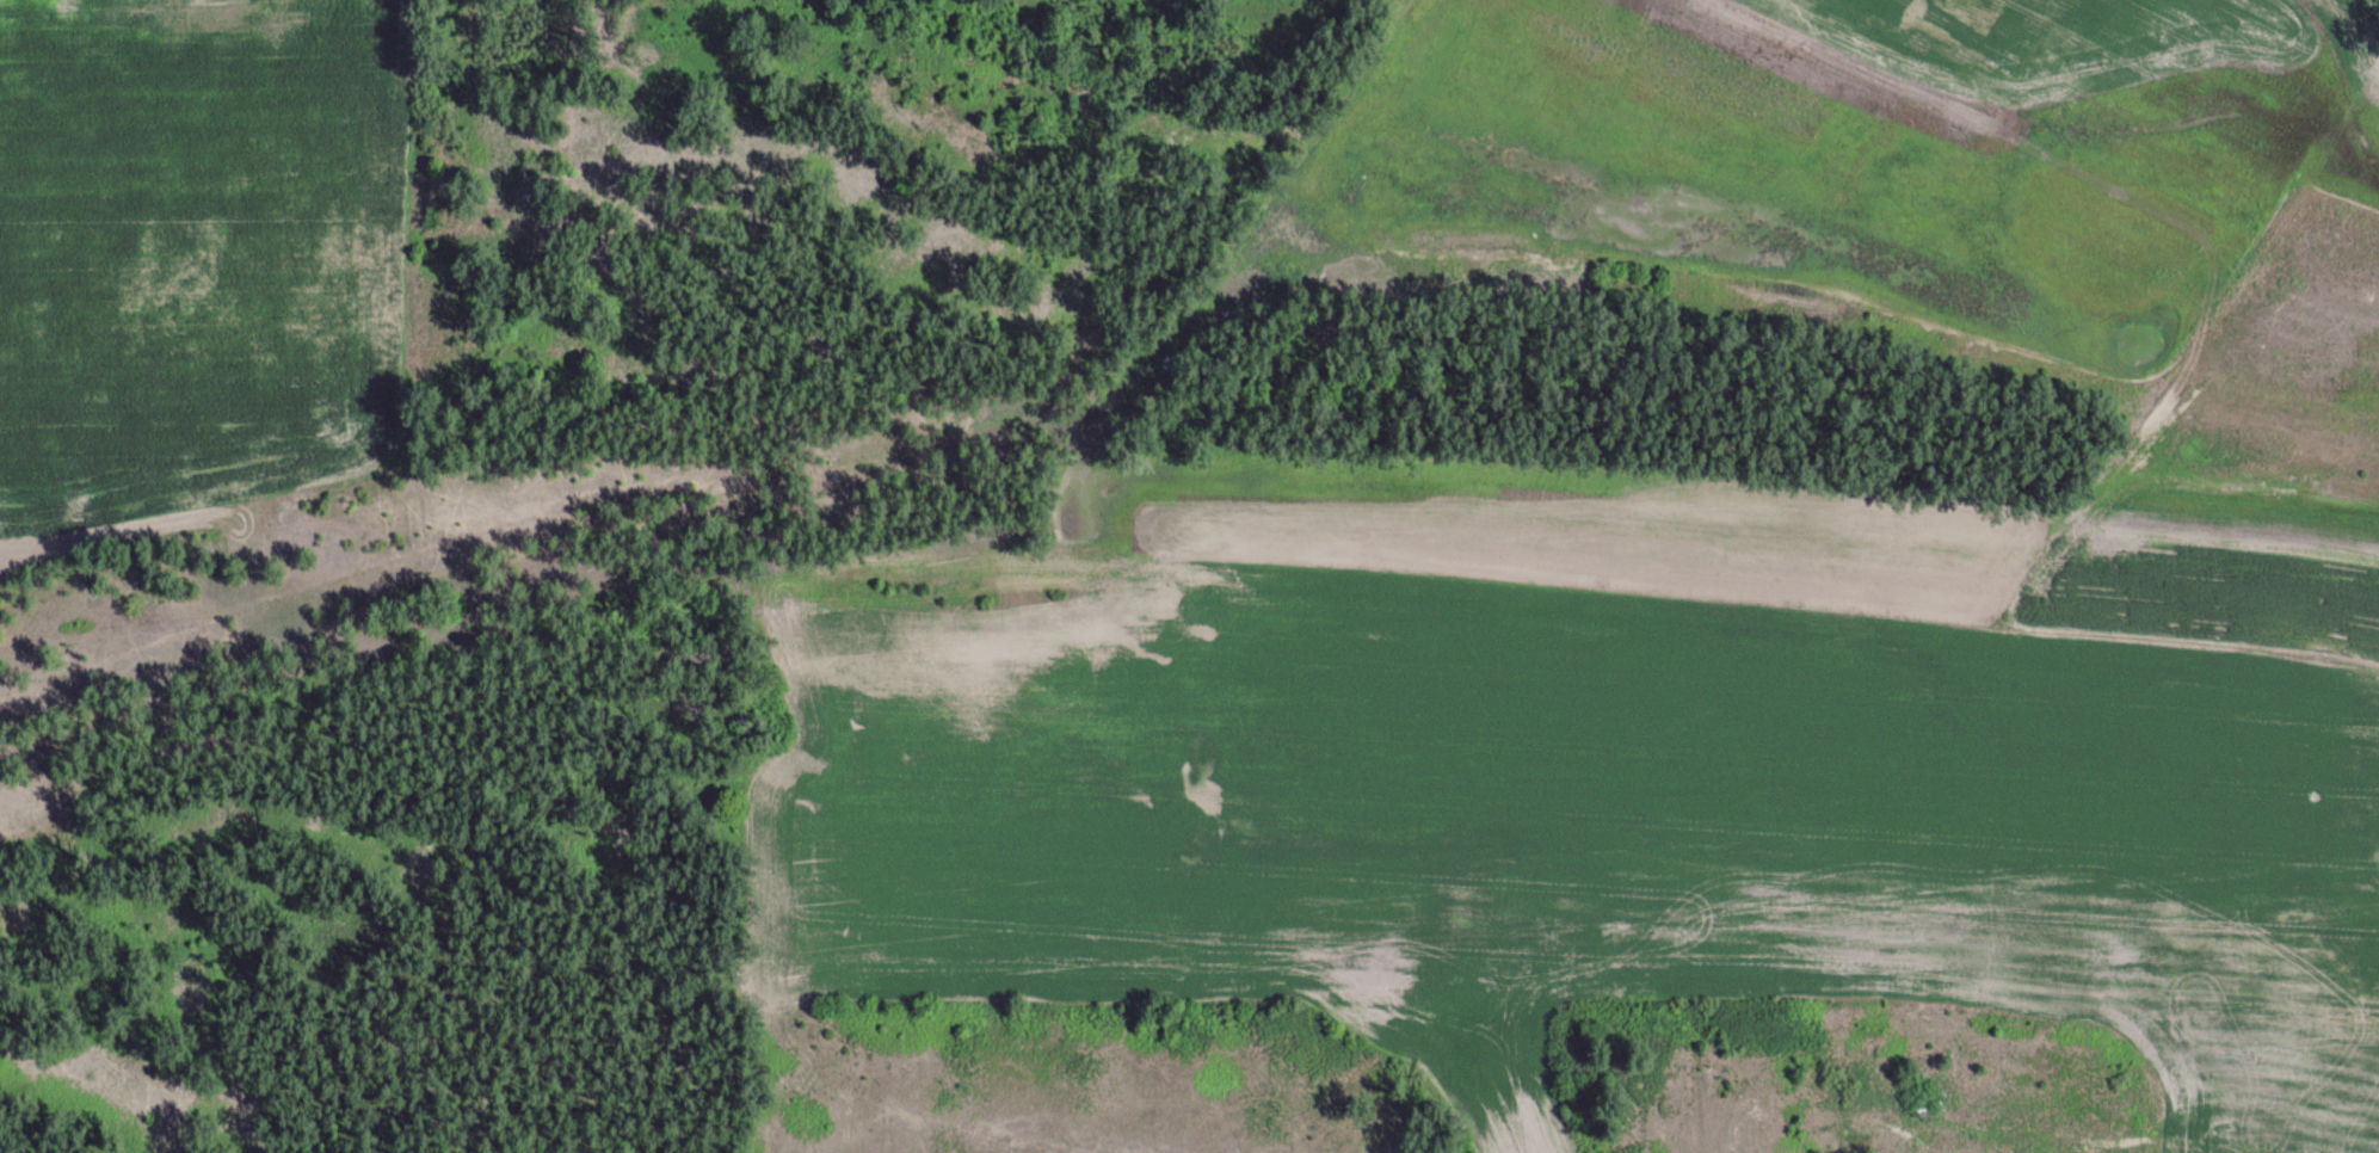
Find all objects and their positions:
crop: (204, 270)
road: (1397, 559)

